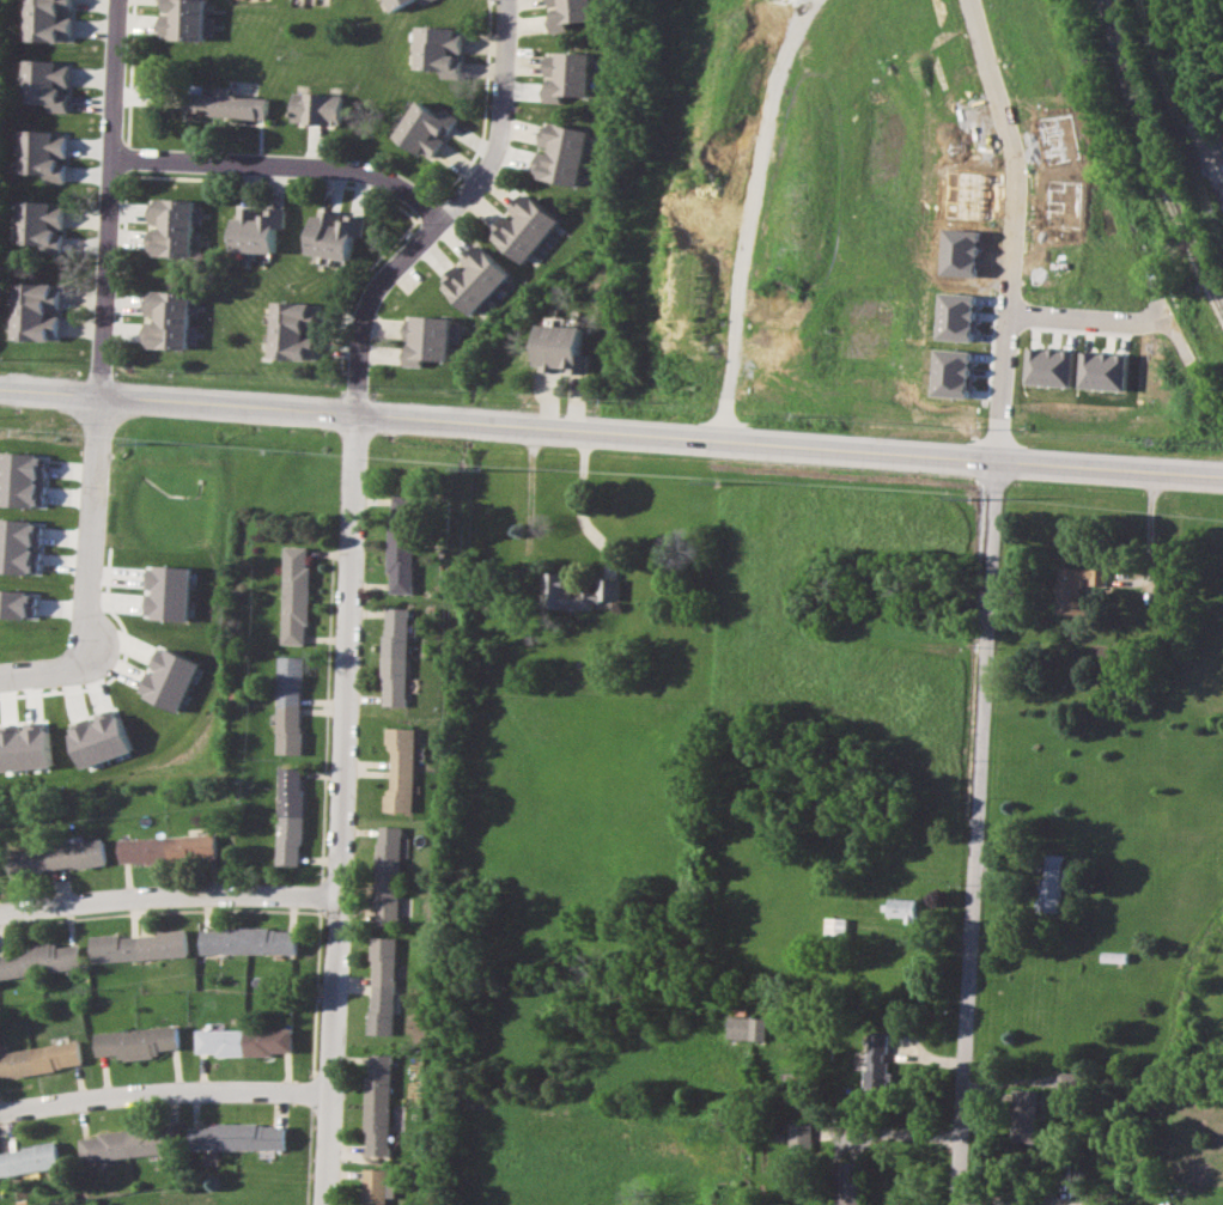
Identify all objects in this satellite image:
building: (422, 1)
building: (395, 4)
building: (568, 13)
building: (49, 19)
building: (183, 19)
road: (517, 24)
building: (436, 50)
park: (1, 54)
building: (567, 74)
building: (45, 84)
building: (227, 104)
building: (316, 108)
building: (424, 128)
railway: (1157, 151)
building: (43, 153)
building: (562, 153)
road: (286, 163)
road: (116, 199)
road: (747, 217)
building: (41, 225)
building: (171, 226)
road: (426, 226)
building: (525, 227)
road: (1011, 229)
building: (256, 230)
building: (334, 236)
building: (476, 279)
building: (35, 311)
building: (954, 316)
road: (1078, 316)
building: (165, 318)
building: (292, 329)
building: (427, 339)
building: (560, 348)
building: (1048, 366)
building: (1102, 371)
building: (949, 372)
road: (611, 433)
building: (22, 479)
road: (580, 494)
building: (401, 543)
building: (19, 546)
road: (85, 572)
building: (1075, 588)
building: (573, 591)
building: (168, 592)
building: (294, 595)
building: (17, 603)
building: (394, 656)
building: (170, 678)
building: (288, 705)
building: (99, 738)
building: (25, 749)
building: (400, 769)
road: (339, 813)
building: (287, 816)
road: (980, 834)
building: (166, 847)
building: (62, 856)
building: (387, 875)
building: (1051, 882)
road: (166, 891)
building: (902, 908)
building: (835, 925)
building: (248, 941)
building: (138, 945)
building: (38, 960)
building: (382, 985)
building: (746, 1027)
building: (136, 1041)
building: (243, 1041)
building: (39, 1058)
building: (876, 1060)
building: (1066, 1081)
road: (163, 1091)
building: (378, 1103)
building: (1024, 1115)
building: (799, 1134)
building: (237, 1137)
building: (126, 1143)
building: (29, 1158)
building: (847, 1183)
building: (377, 1186)

